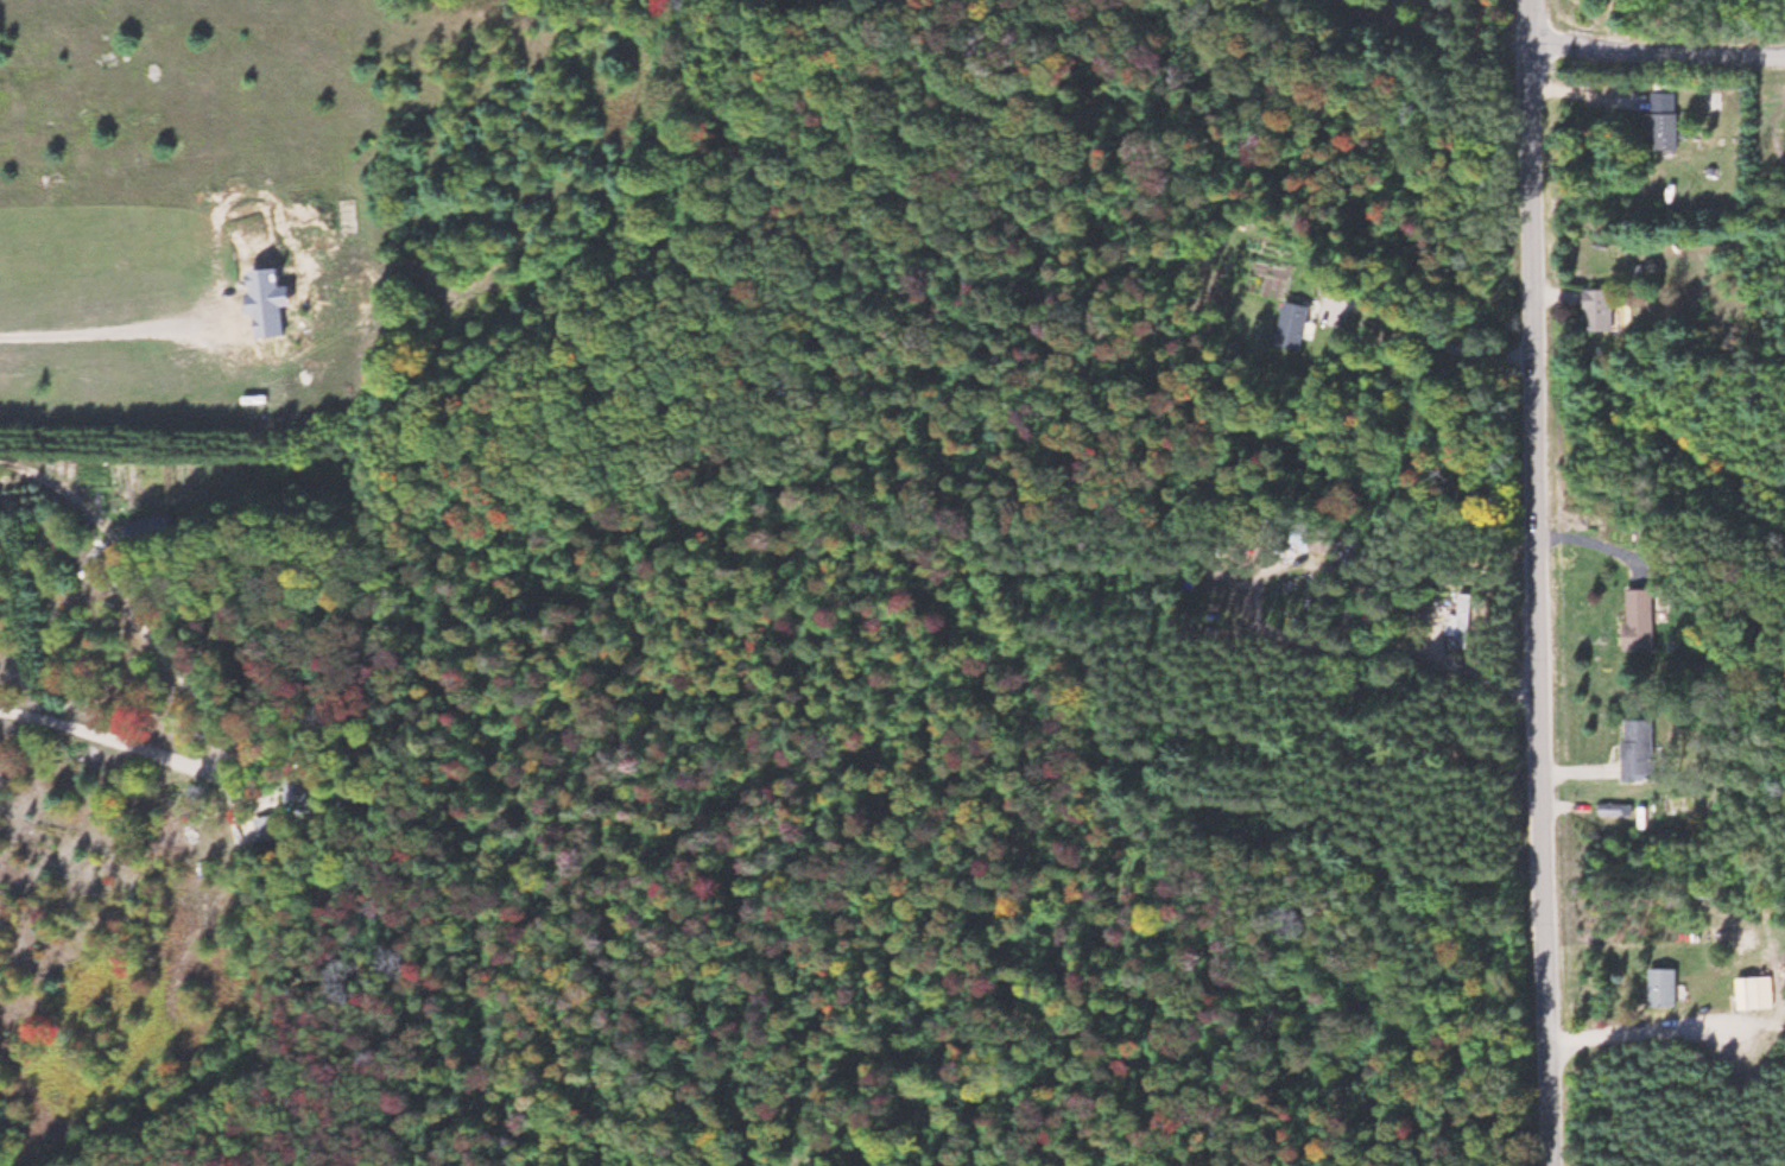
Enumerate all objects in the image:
road: (1658, 53)
building: (1670, 119)
building: (1608, 308)
building: (1302, 323)
road: (1544, 582)
building: (1647, 617)
building: (1470, 623)
building: (1645, 748)
building: (1670, 987)
building: (1761, 991)

